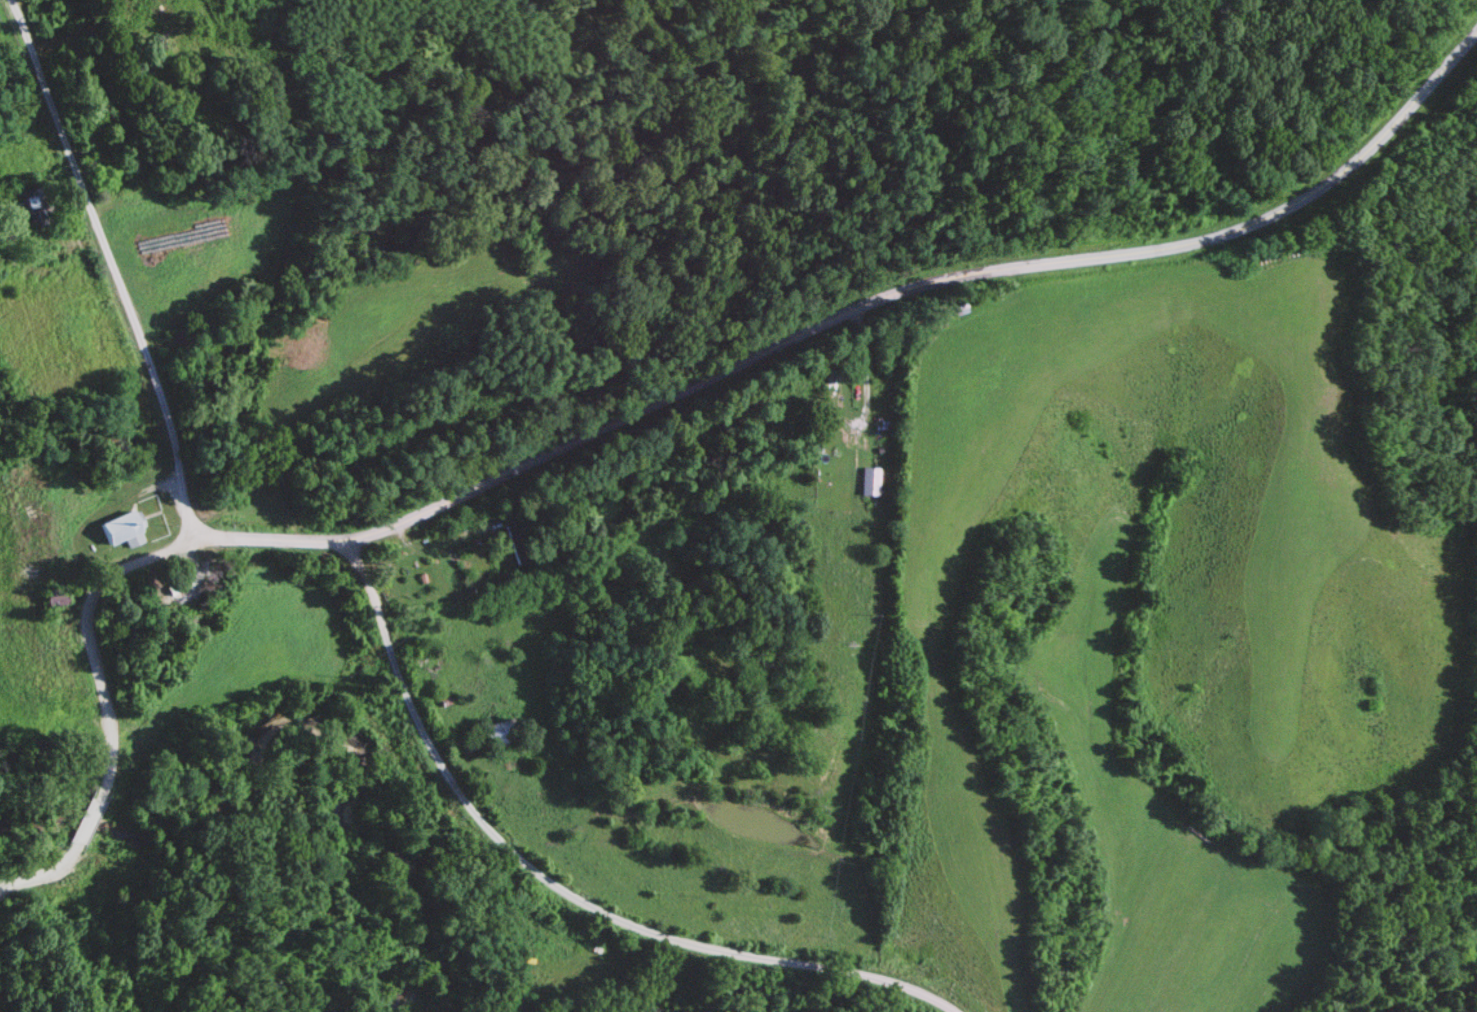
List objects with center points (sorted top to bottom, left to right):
building: (166, 35)
building: (37, 206)
road: (110, 262)
road: (853, 310)
building: (125, 531)
building: (518, 544)
building: (185, 592)
road: (102, 704)
building: (501, 734)
road: (559, 887)

